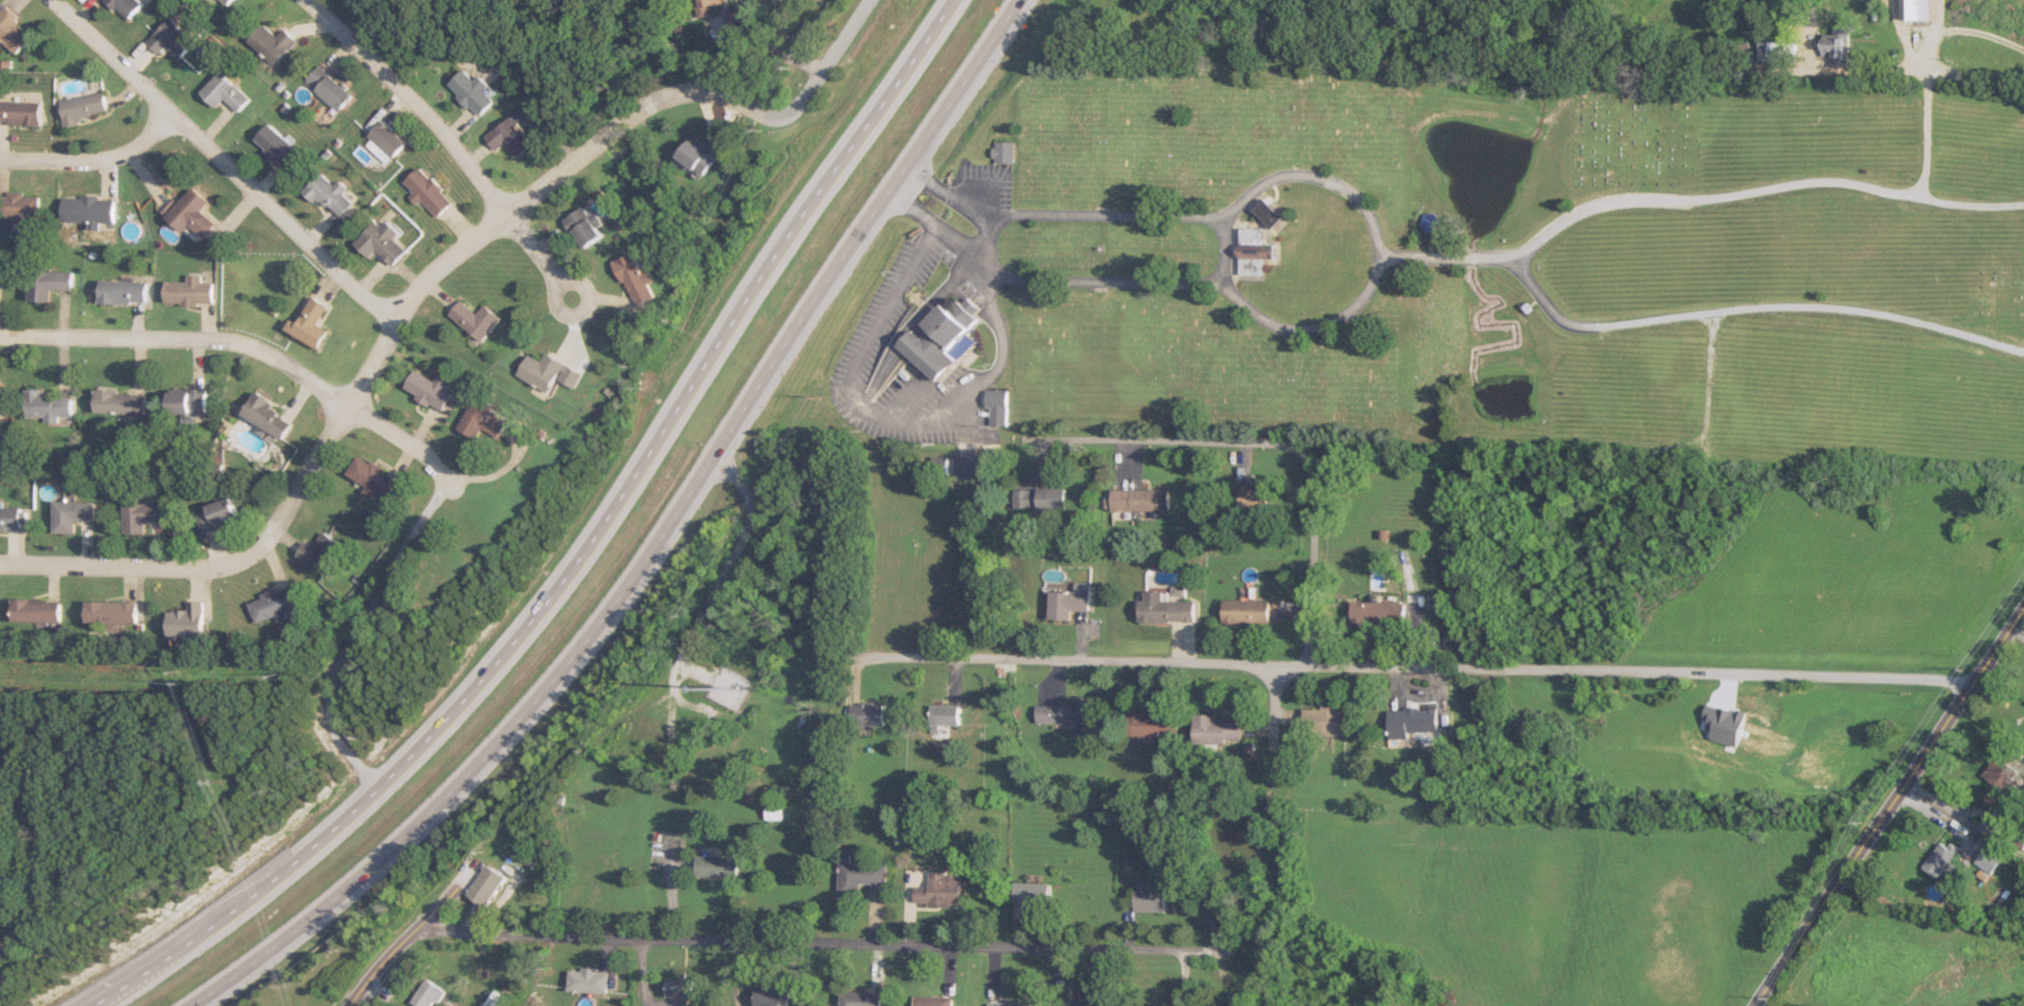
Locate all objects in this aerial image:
building: (228, 1)
building: (705, 2)
building: (129, 6)
building: (1915, 9)
building: (733, 19)
building: (14, 30)
road: (839, 33)
building: (172, 38)
building: (274, 42)
road: (1979, 43)
building: (1836, 45)
road: (760, 50)
building: (1775, 50)
building: (1736, 52)
building: (328, 87)
building: (474, 91)
building: (225, 92)
building: (84, 107)
building: (20, 112)
road: (1925, 114)
building: (511, 136)
road: (452, 138)
building: (386, 142)
road: (592, 143)
building: (278, 146)
building: (1003, 151)
building: (702, 154)
road: (217, 159)
road: (91, 161)
road: (948, 189)
road: (1762, 189)
building: (429, 191)
building: (331, 195)
building: (19, 206)
building: (88, 209)
building: (189, 212)
building: (1270, 212)
road: (1371, 215)
road: (1110, 216)
building: (1430, 222)
road: (936, 225)
building: (585, 227)
building: (1252, 235)
building: (383, 241)
road: (1447, 257)
building: (1253, 262)
building: (1, 275)
building: (637, 280)
road: (1080, 281)
building: (47, 283)
building: (188, 290)
building: (122, 291)
road: (1754, 308)
building: (476, 319)
building: (310, 323)
building: (941, 336)
road: (244, 345)
building: (549, 372)
building: (430, 389)
building: (186, 401)
building: (118, 402)
building: (46, 404)
building: (265, 415)
road: (884, 417)
building: (482, 420)
road: (1705, 440)
road: (1265, 441)
building: (374, 479)
building: (1254, 496)
building: (1039, 499)
building: (1141, 500)
building: (70, 515)
building: (218, 515)
building: (141, 517)
building: (9, 518)
road: (258, 543)
road: (648, 546)
building: (321, 554)
road: (573, 555)
road: (727, 564)
building: (1067, 604)
building: (272, 605)
building: (1165, 608)
building: (34, 611)
building: (109, 612)
building: (1246, 612)
building: (1376, 614)
building: (186, 622)
road: (347, 632)
road: (1410, 667)
road: (1272, 704)
building: (1065, 712)
building: (867, 714)
building: (945, 717)
building: (1325, 721)
building: (1410, 722)
building: (1151, 724)
building: (1216, 730)
building: (1997, 781)
road: (1888, 803)
building: (773, 811)
building: (1939, 860)
building: (1988, 861)
building: (717, 865)
building: (859, 874)
building: (486, 885)
building: (940, 890)
road: (670, 891)
building: (1034, 894)
building: (1151, 900)
road: (403, 941)
road: (830, 944)
building: (587, 980)
building: (678, 987)
building: (430, 994)
building: (770, 995)
building: (860, 998)
building: (496, 1000)
building: (934, 1001)
building: (1086, 1002)
building: (1007, 1004)
road: (1759, 1004)

